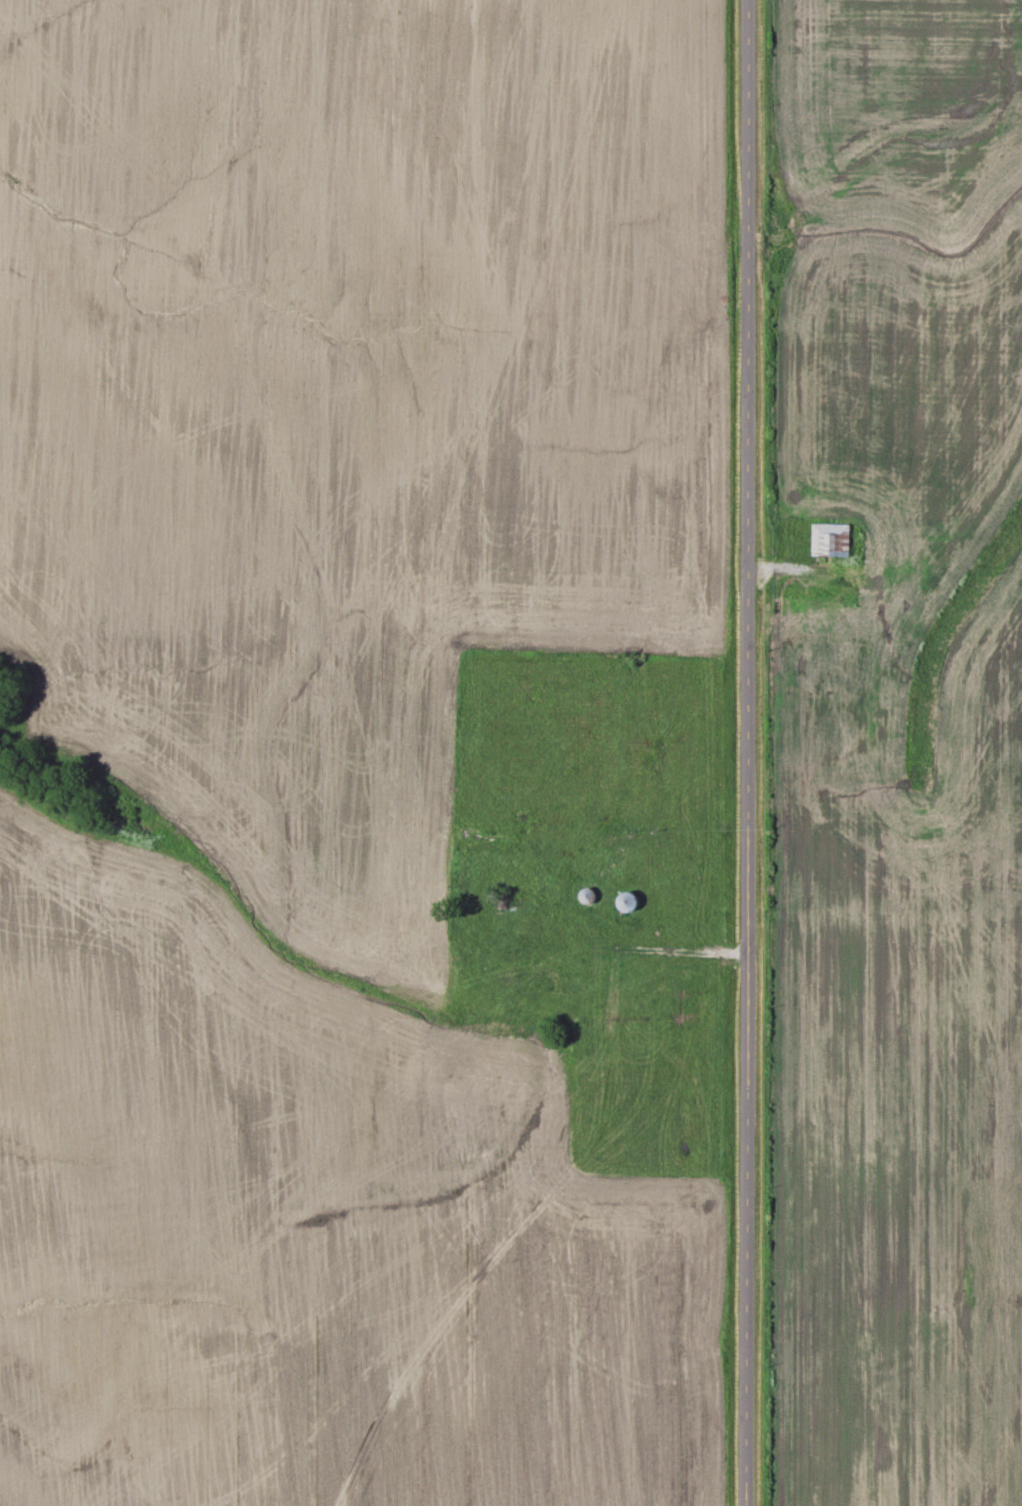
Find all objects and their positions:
building: (829, 542)
building: (917, 568)
road: (743, 753)
building: (624, 902)

